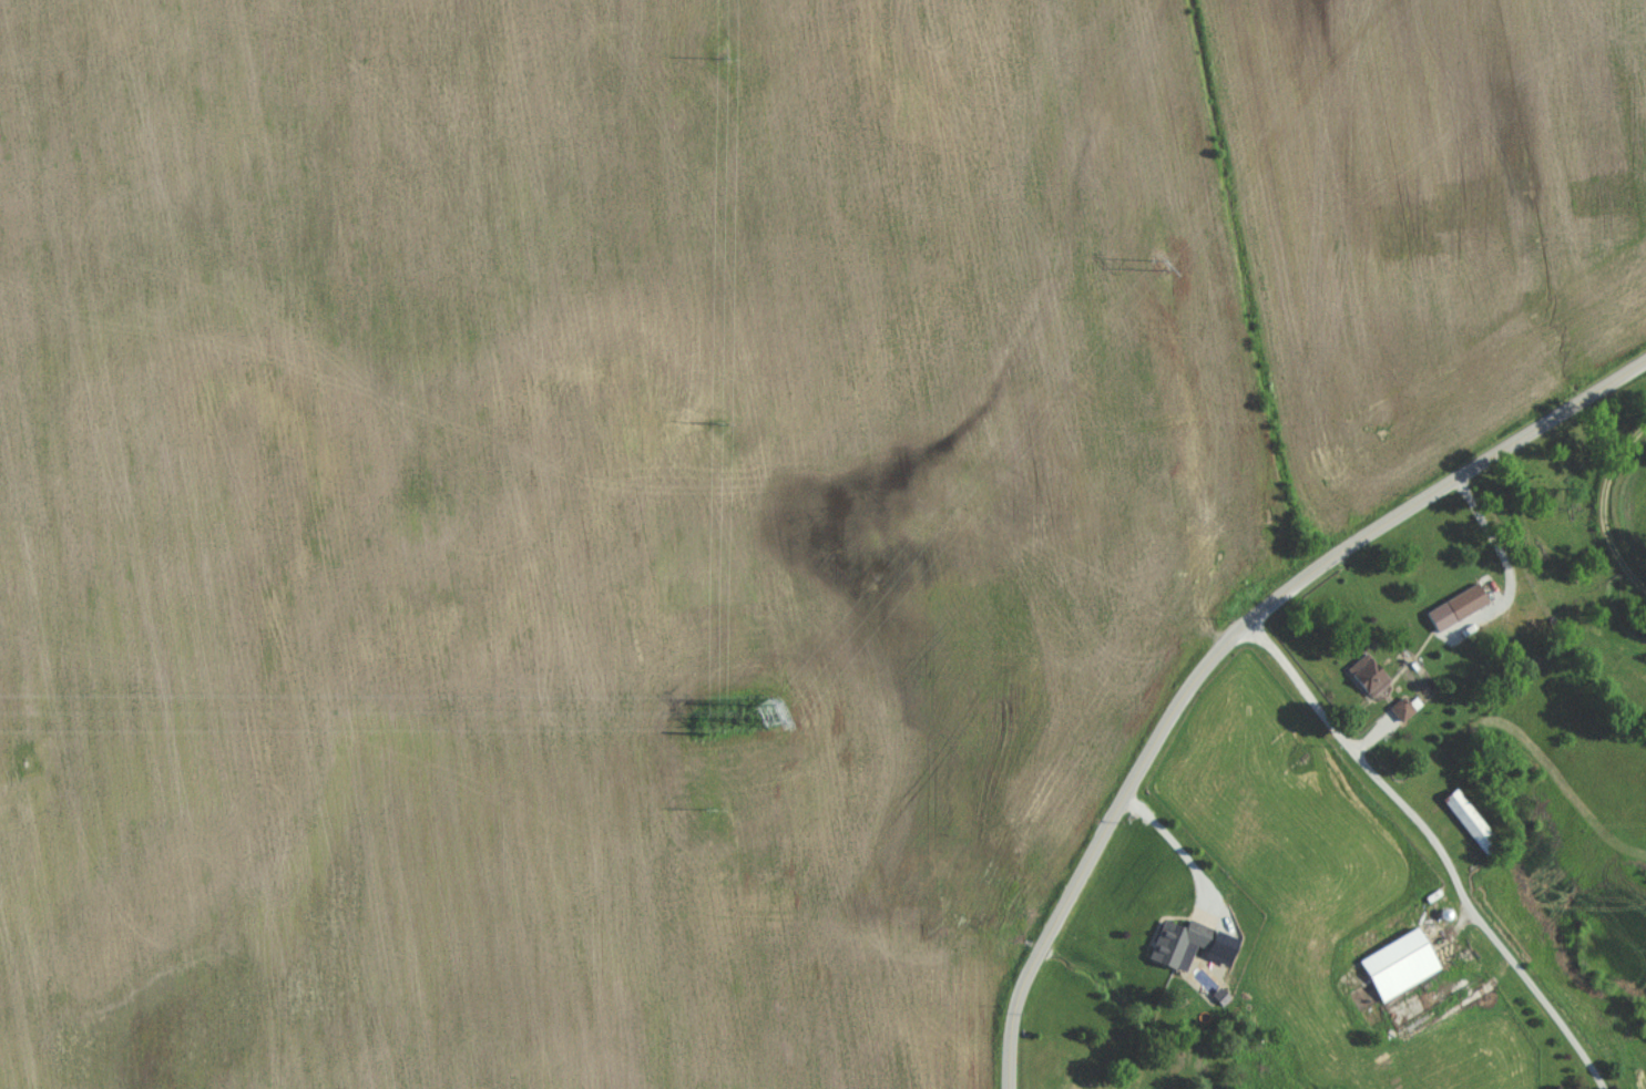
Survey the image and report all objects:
power tower: (1168, 250)
road: (1510, 564)
building: (1461, 604)
road: (1245, 623)
building: (1371, 672)
building: (1405, 707)
power tower: (767, 713)
building: (1471, 816)
road: (1439, 844)
road: (1177, 845)
building: (1183, 942)
building: (1404, 962)
road: (1010, 1062)

